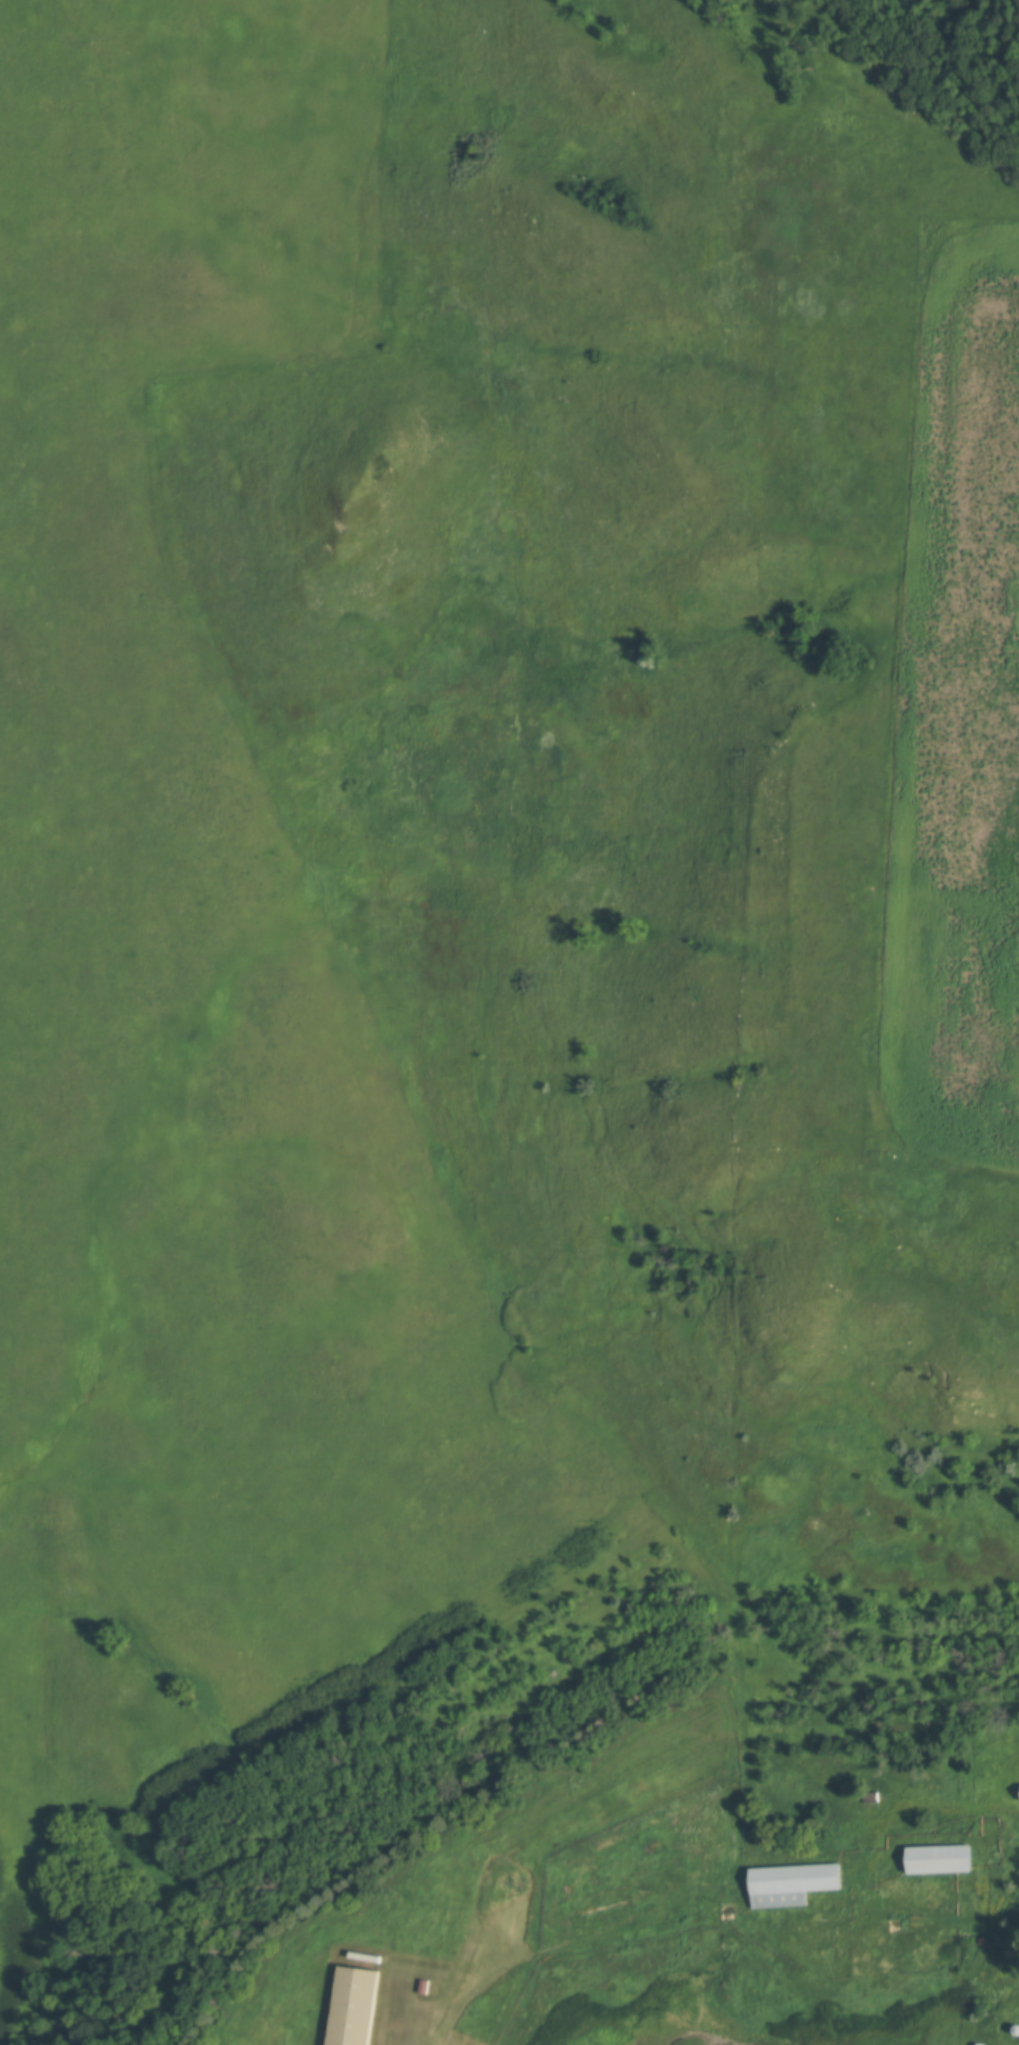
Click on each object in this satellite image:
building: (1017, 1791)
building: (872, 1797)
building: (933, 1858)
building: (784, 1883)
building: (353, 2006)
building: (1013, 2029)
silo: (1013, 2029)
building: (978, 2044)
silo: (978, 2044)

